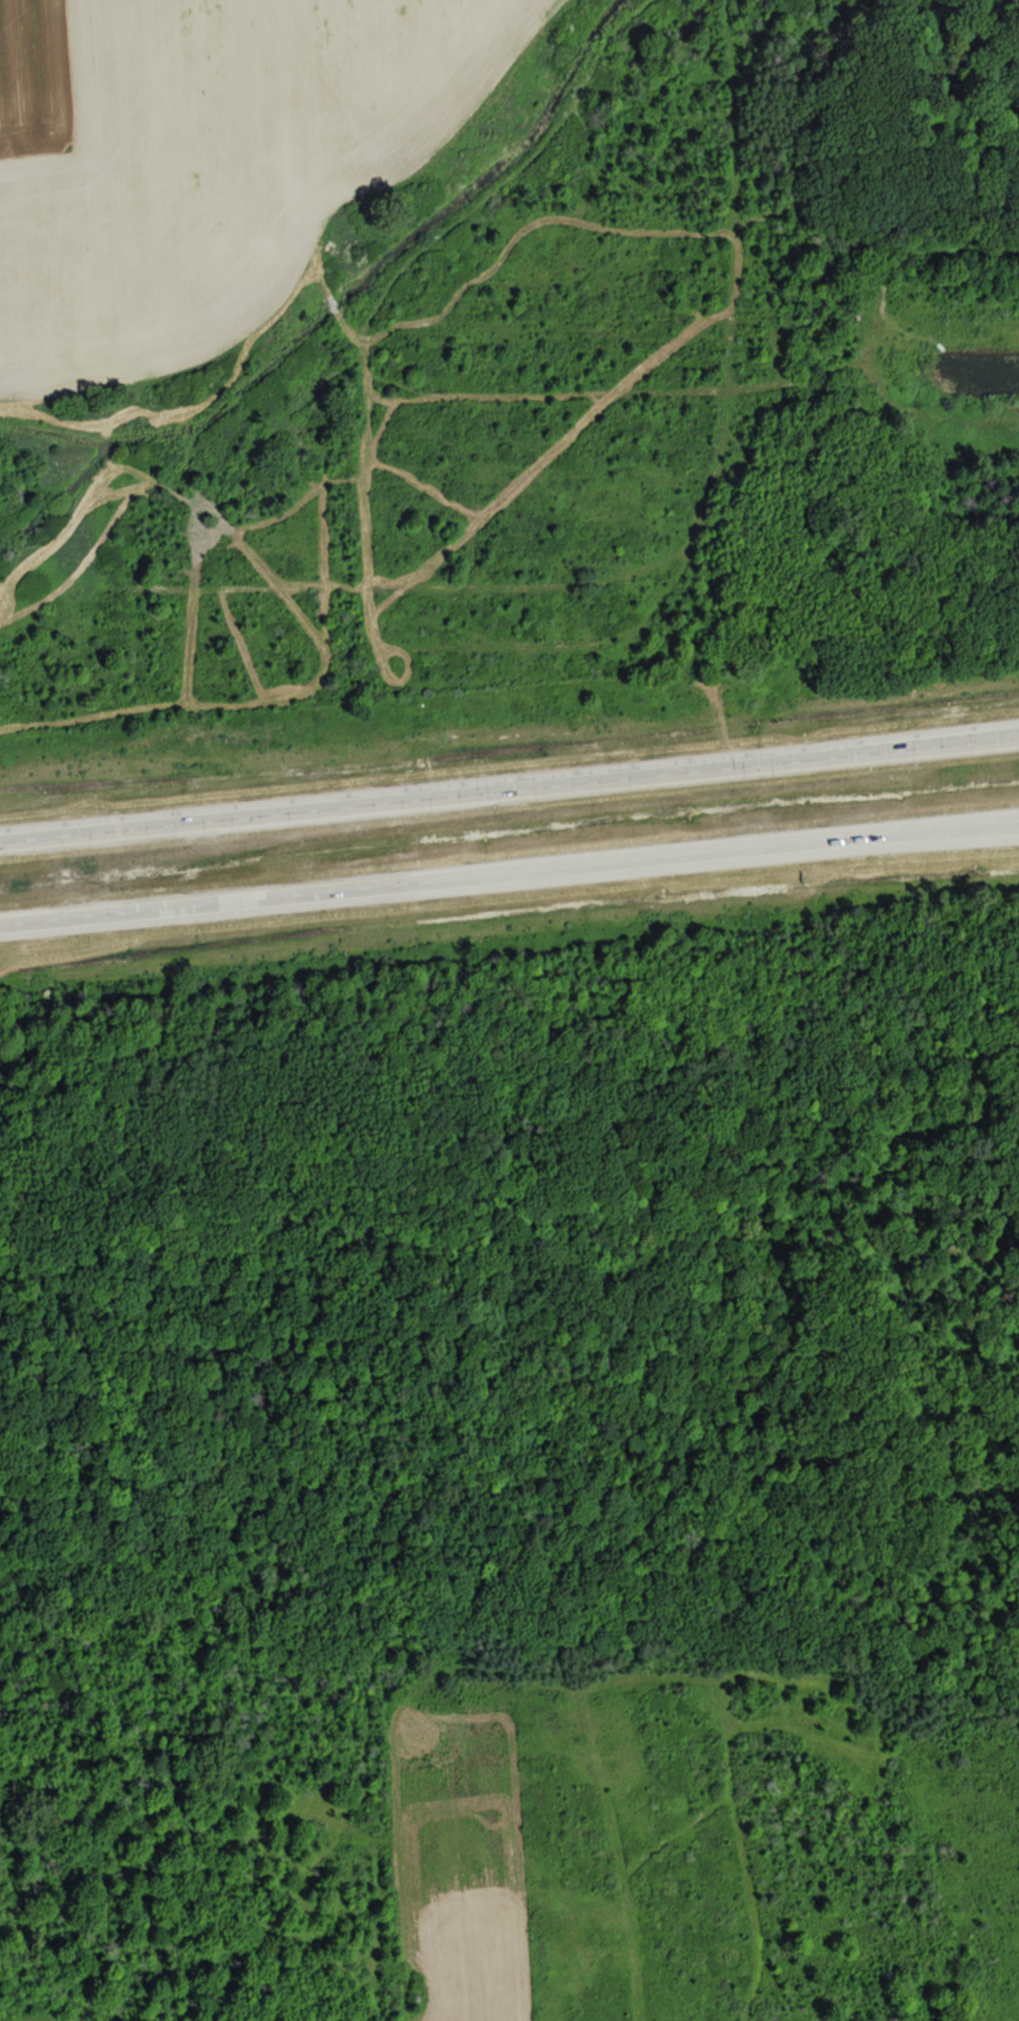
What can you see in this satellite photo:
river: (371, 247)
road: (509, 790)
road: (996, 826)
road: (509, 873)

